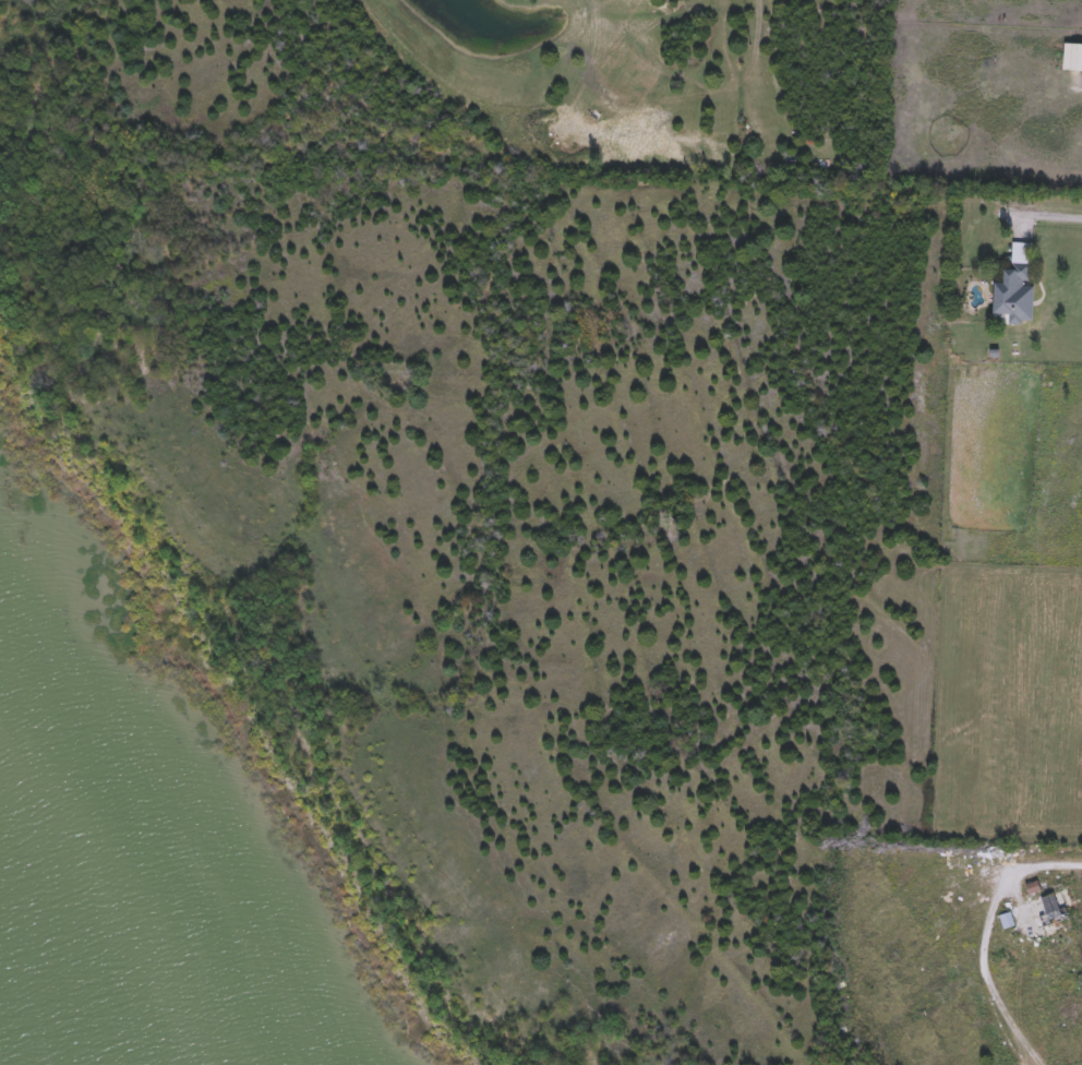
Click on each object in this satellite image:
building: (1072, 59)
road: (1039, 214)
building: (1015, 286)
building: (1050, 912)
road: (985, 936)

